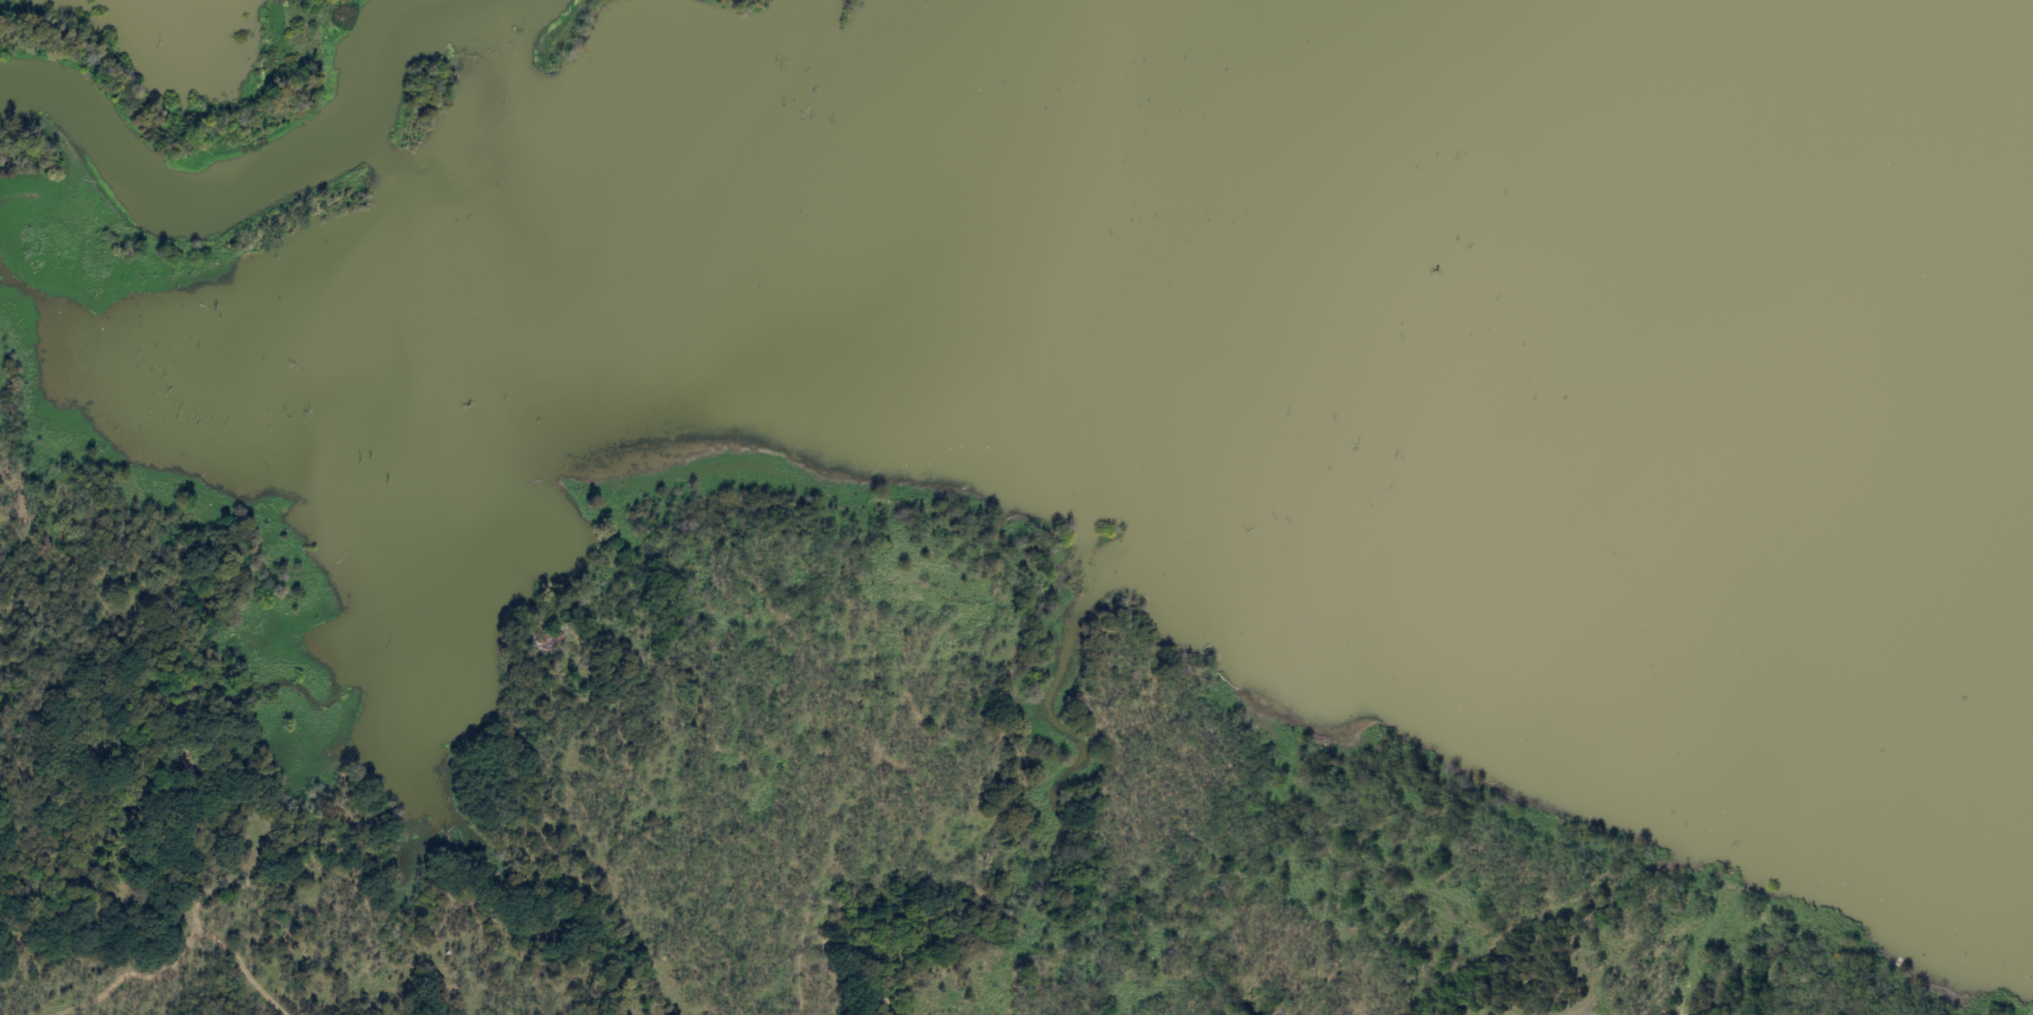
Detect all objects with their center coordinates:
road: (1702, 939)

